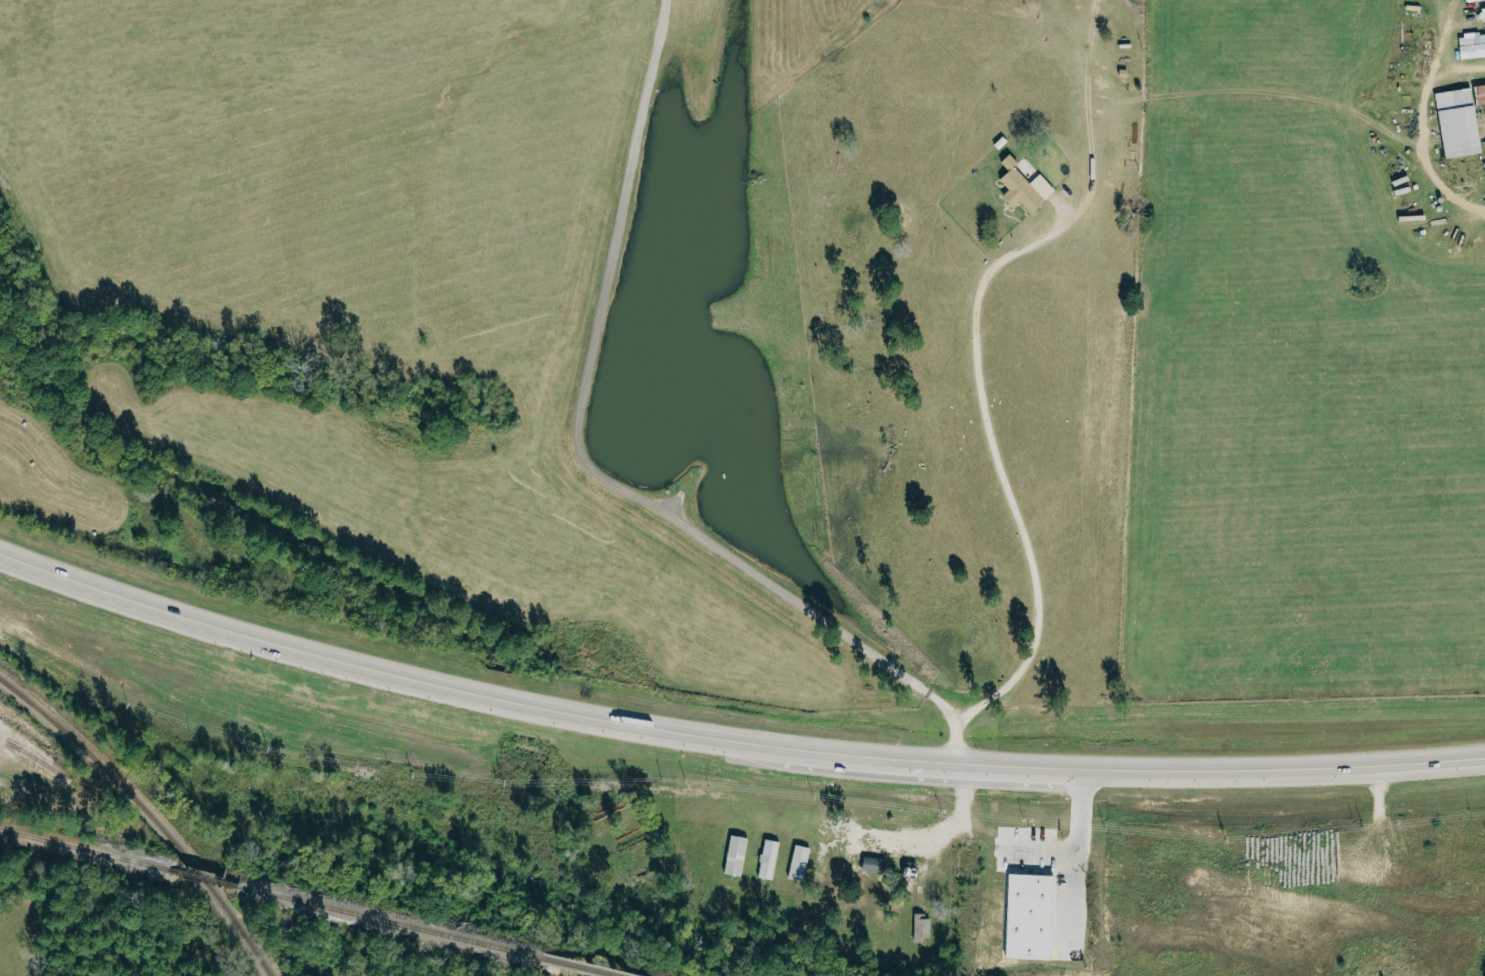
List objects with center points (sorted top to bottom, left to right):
building: (1484, 15)
building: (1473, 46)
building: (1481, 94)
building: (1460, 122)
road: (1422, 131)
building: (1025, 187)
road: (975, 365)
road: (598, 471)
railway: (9, 745)
road: (730, 751)
railway: (34, 759)
railway: (149, 814)
railway: (83, 850)
building: (737, 856)
building: (800, 863)
railway: (194, 877)
building: (923, 902)
building: (1030, 918)
railway: (418, 929)
building: (1069, 935)

